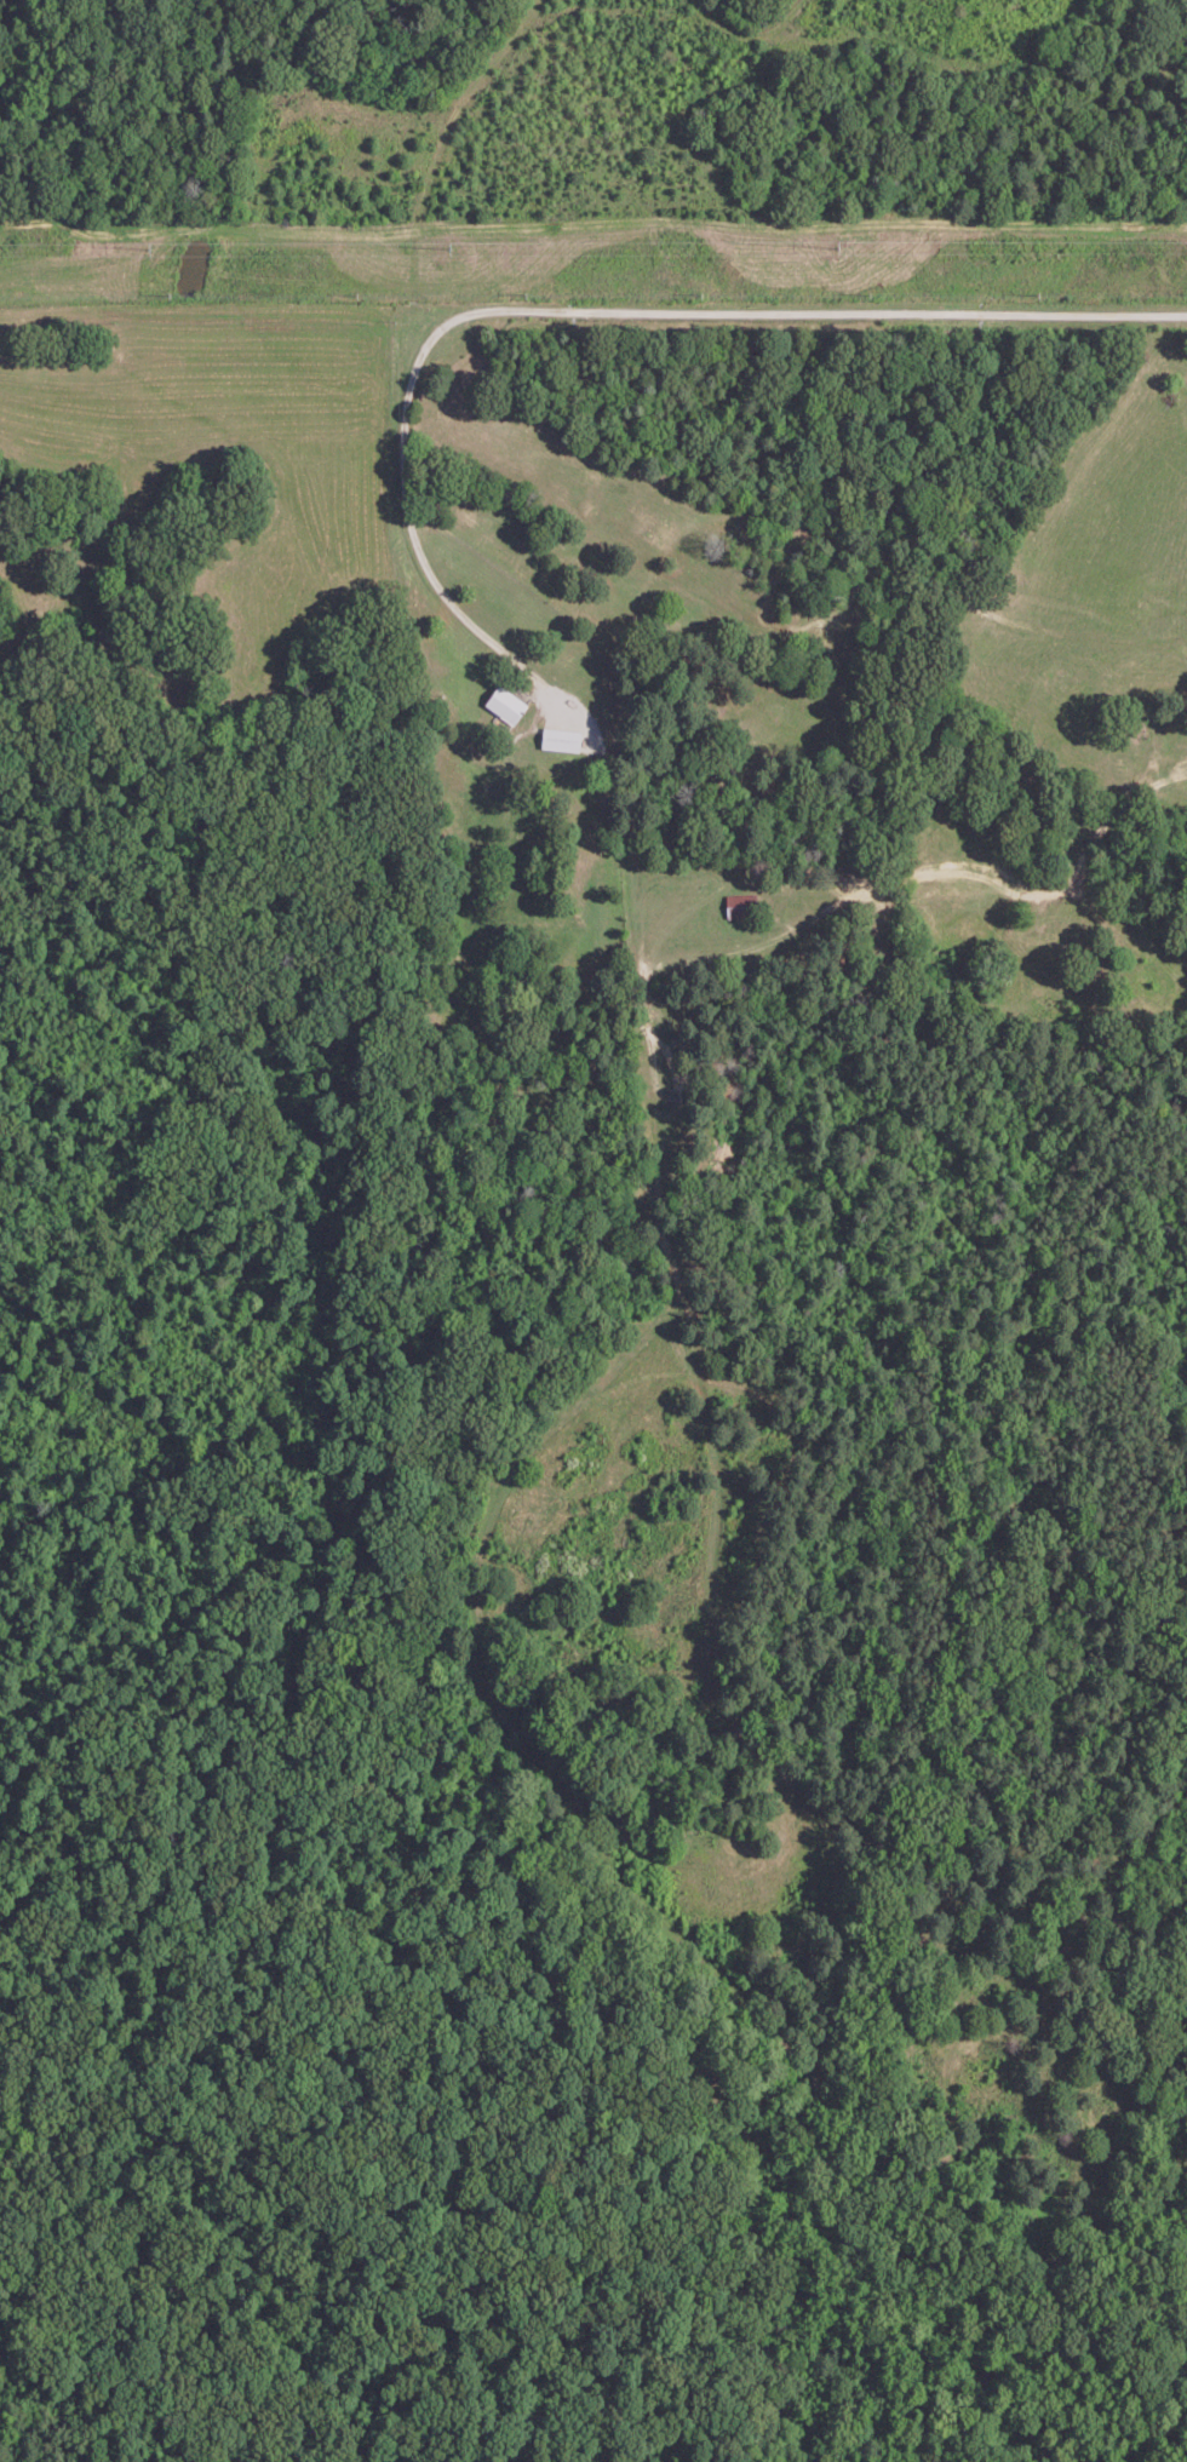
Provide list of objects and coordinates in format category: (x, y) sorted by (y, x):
road: (585, 308)
building: (505, 702)
building: (561, 738)

